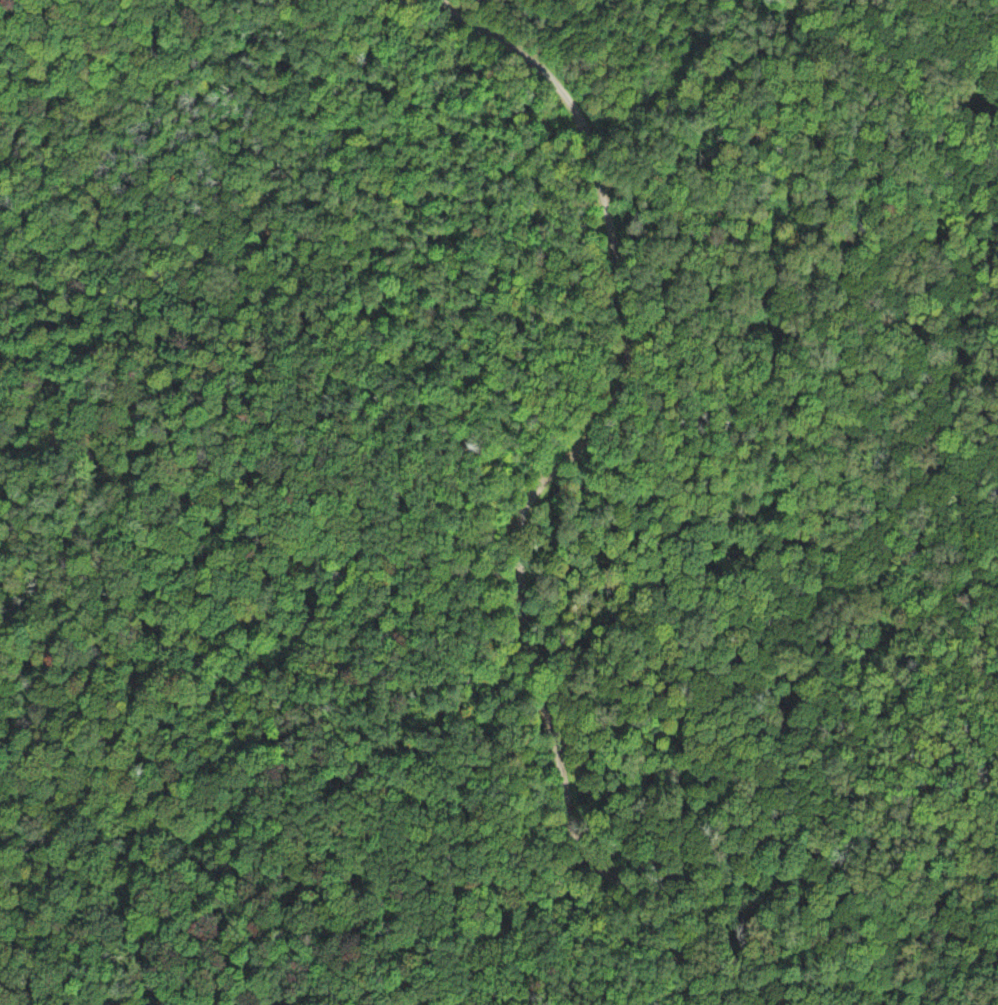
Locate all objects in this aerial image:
road: (473, 22)
road: (513, 514)

